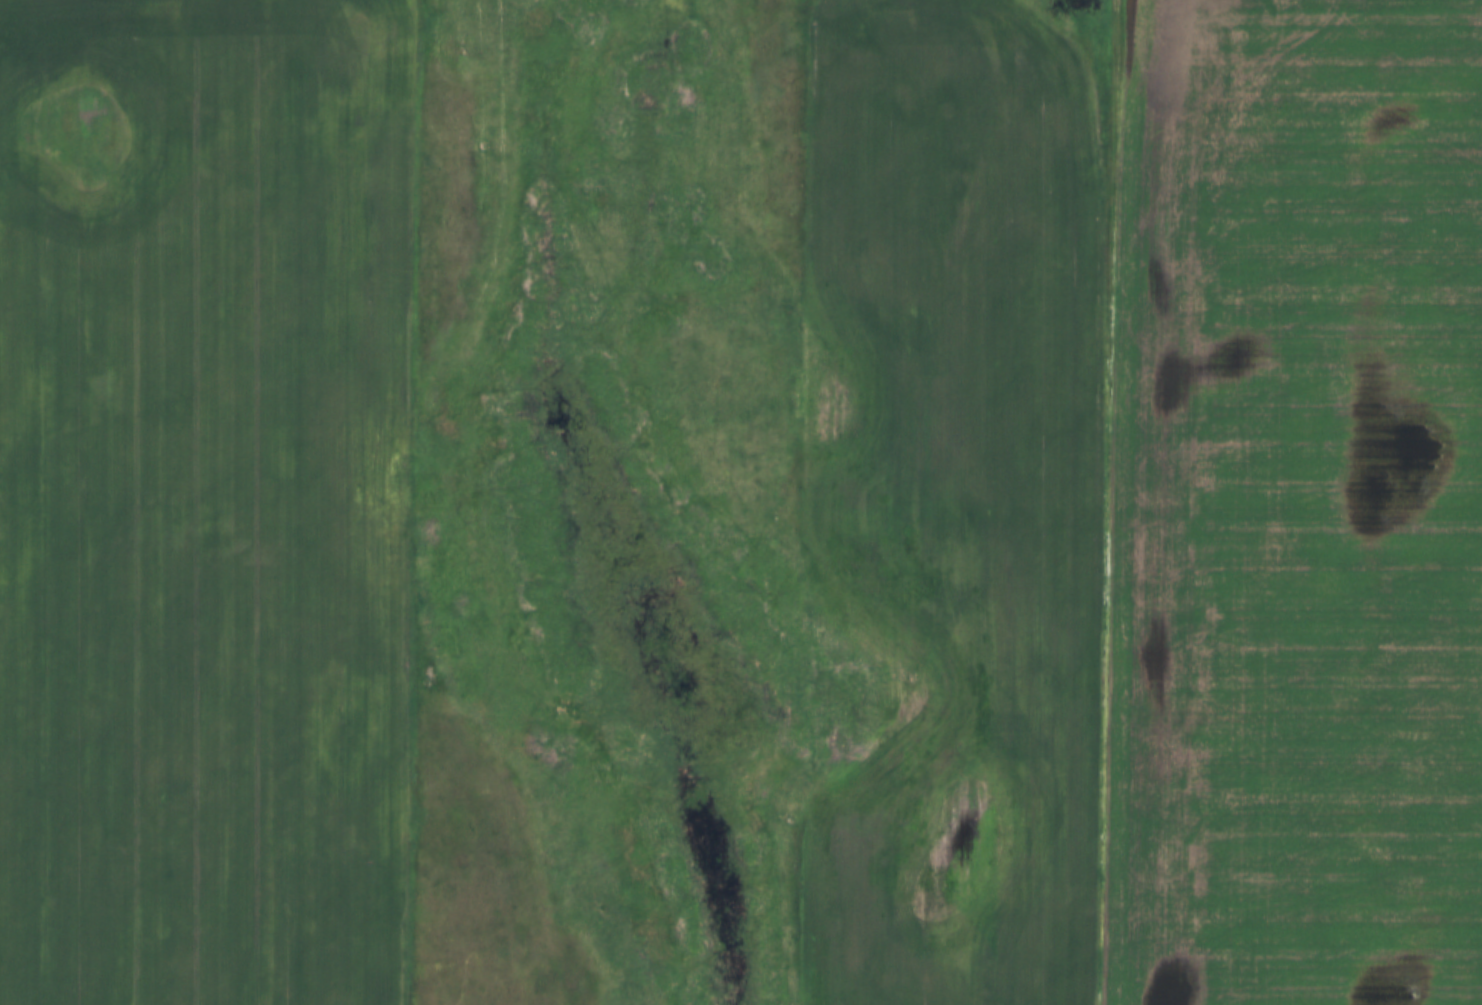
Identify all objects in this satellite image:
road: (1113, 502)

